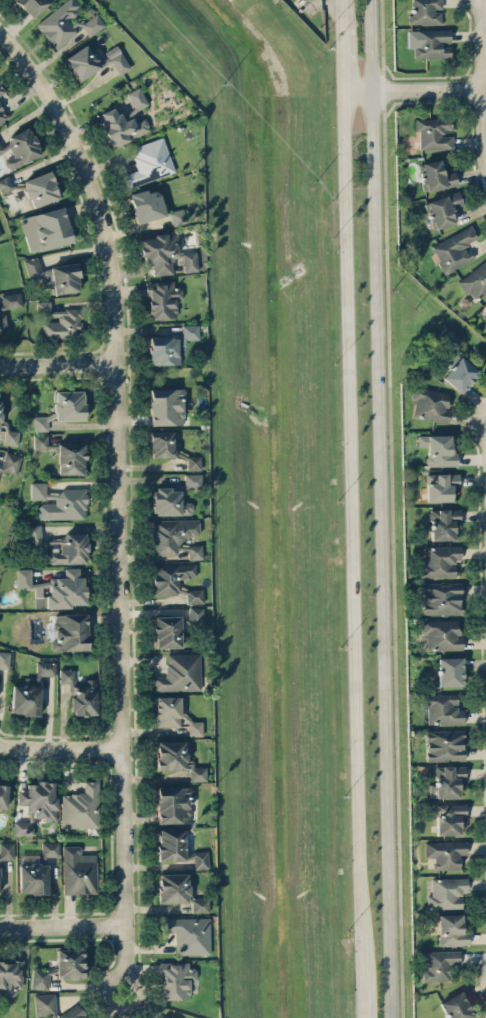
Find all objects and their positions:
building: (32, 6)
building: (425, 12)
building: (59, 23)
building: (92, 24)
building: (432, 43)
building: (117, 59)
building: (82, 62)
road: (483, 78)
road: (413, 88)
building: (1, 89)
building: (137, 98)
building: (2, 115)
building: (121, 126)
building: (433, 132)
building: (20, 148)
building: (149, 162)
building: (436, 175)
building: (5, 184)
building: (40, 188)
building: (147, 205)
building: (442, 209)
building: (177, 216)
building: (45, 229)
building: (0, 239)
building: (454, 249)
building: (159, 252)
building: (189, 261)
building: (55, 275)
building: (475, 280)
building: (163, 300)
building: (8, 304)
building: (484, 314)
building: (59, 321)
building: (188, 332)
building: (163, 350)
road: (58, 366)
building: (460, 374)
building: (430, 403)
building: (68, 404)
building: (166, 406)
building: (0, 409)
building: (40, 423)
road: (476, 423)
building: (40, 440)
building: (161, 444)
building: (438, 449)
building: (71, 458)
building: (10, 462)
building: (193, 462)
building: (0, 464)
road: (351, 477)
building: (192, 479)
building: (440, 486)
road: (119, 497)
building: (59, 502)
building: (168, 502)
road: (382, 509)
building: (443, 523)
building: (37, 535)
building: (174, 536)
building: (70, 549)
building: (439, 560)
building: (170, 576)
building: (55, 588)
building: (194, 595)
building: (441, 597)
building: (195, 614)
building: (70, 631)
building: (167, 631)
building: (441, 634)
building: (4, 659)
building: (449, 671)
building: (179, 672)
building: (66, 674)
building: (30, 690)
building: (83, 697)
building: (442, 708)
building: (174, 714)
building: (444, 744)
road: (61, 749)
building: (177, 759)
building: (446, 781)
building: (3, 795)
building: (39, 799)
building: (173, 804)
building: (80, 807)
building: (449, 818)
building: (23, 827)
building: (171, 844)
building: (49, 848)
building: (6, 850)
building: (445, 853)
building: (198, 859)
building: (78, 870)
building: (32, 878)
building: (179, 891)
building: (446, 892)
road: (62, 927)
building: (451, 929)
building: (188, 934)
building: (70, 962)
building: (439, 964)
building: (10, 976)
building: (39, 978)
building: (176, 979)
road: (362, 987)
building: (44, 1004)
building: (456, 1006)
building: (73, 1012)
building: (170, 1017)

